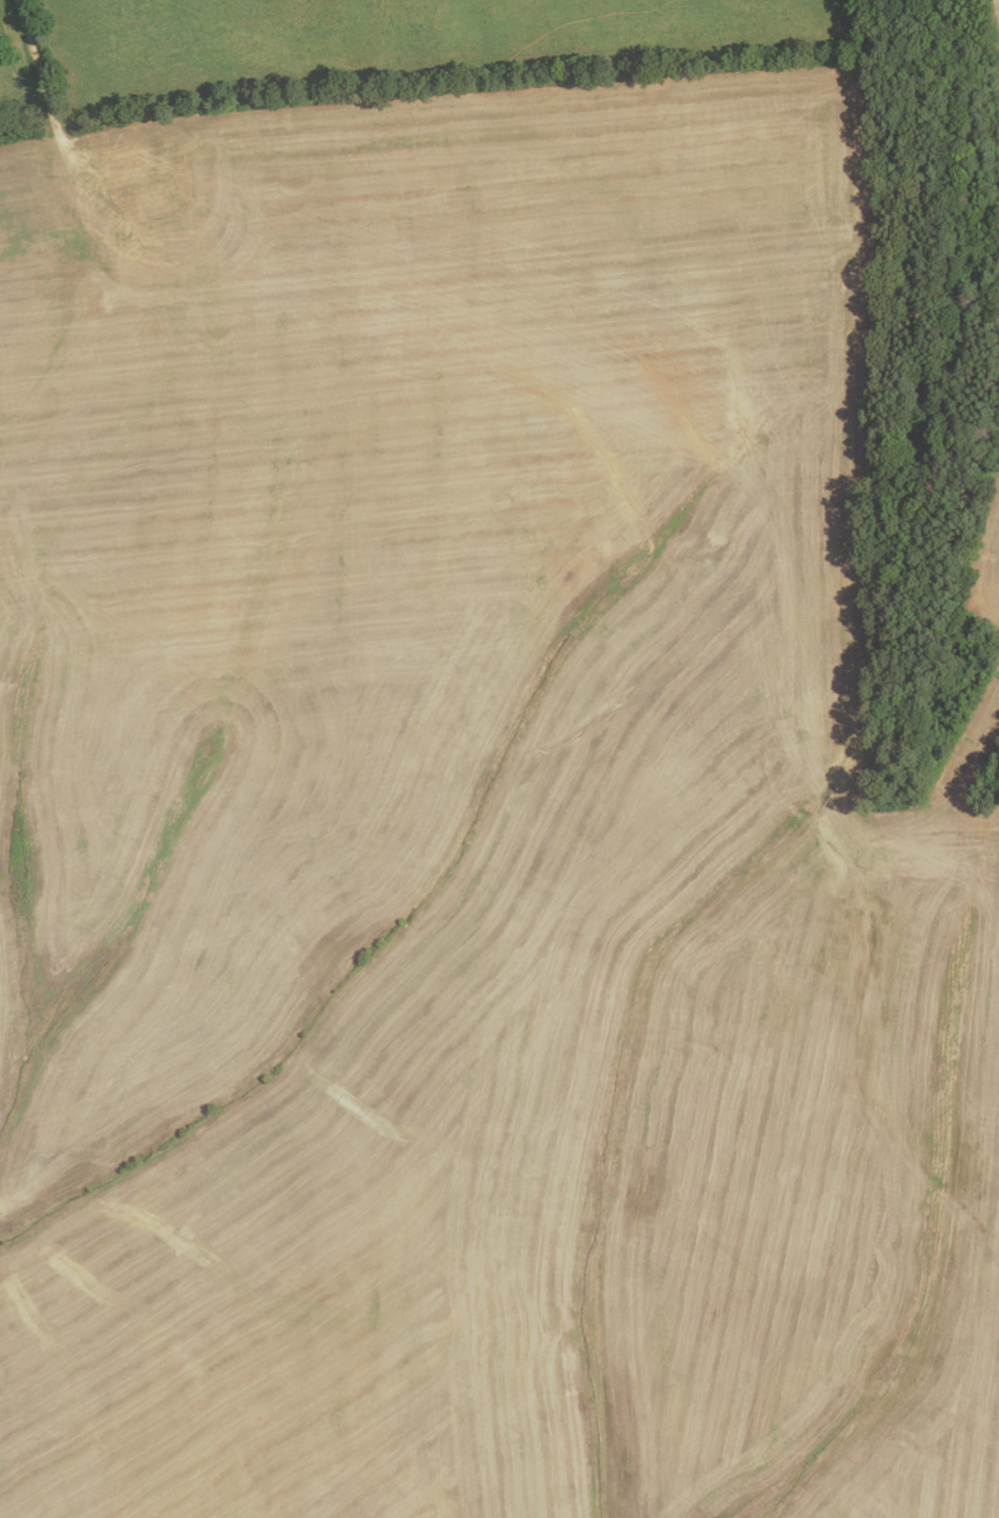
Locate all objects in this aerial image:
crop: (995, 20)
road: (39, 70)
crop: (990, 558)
crop: (477, 830)

